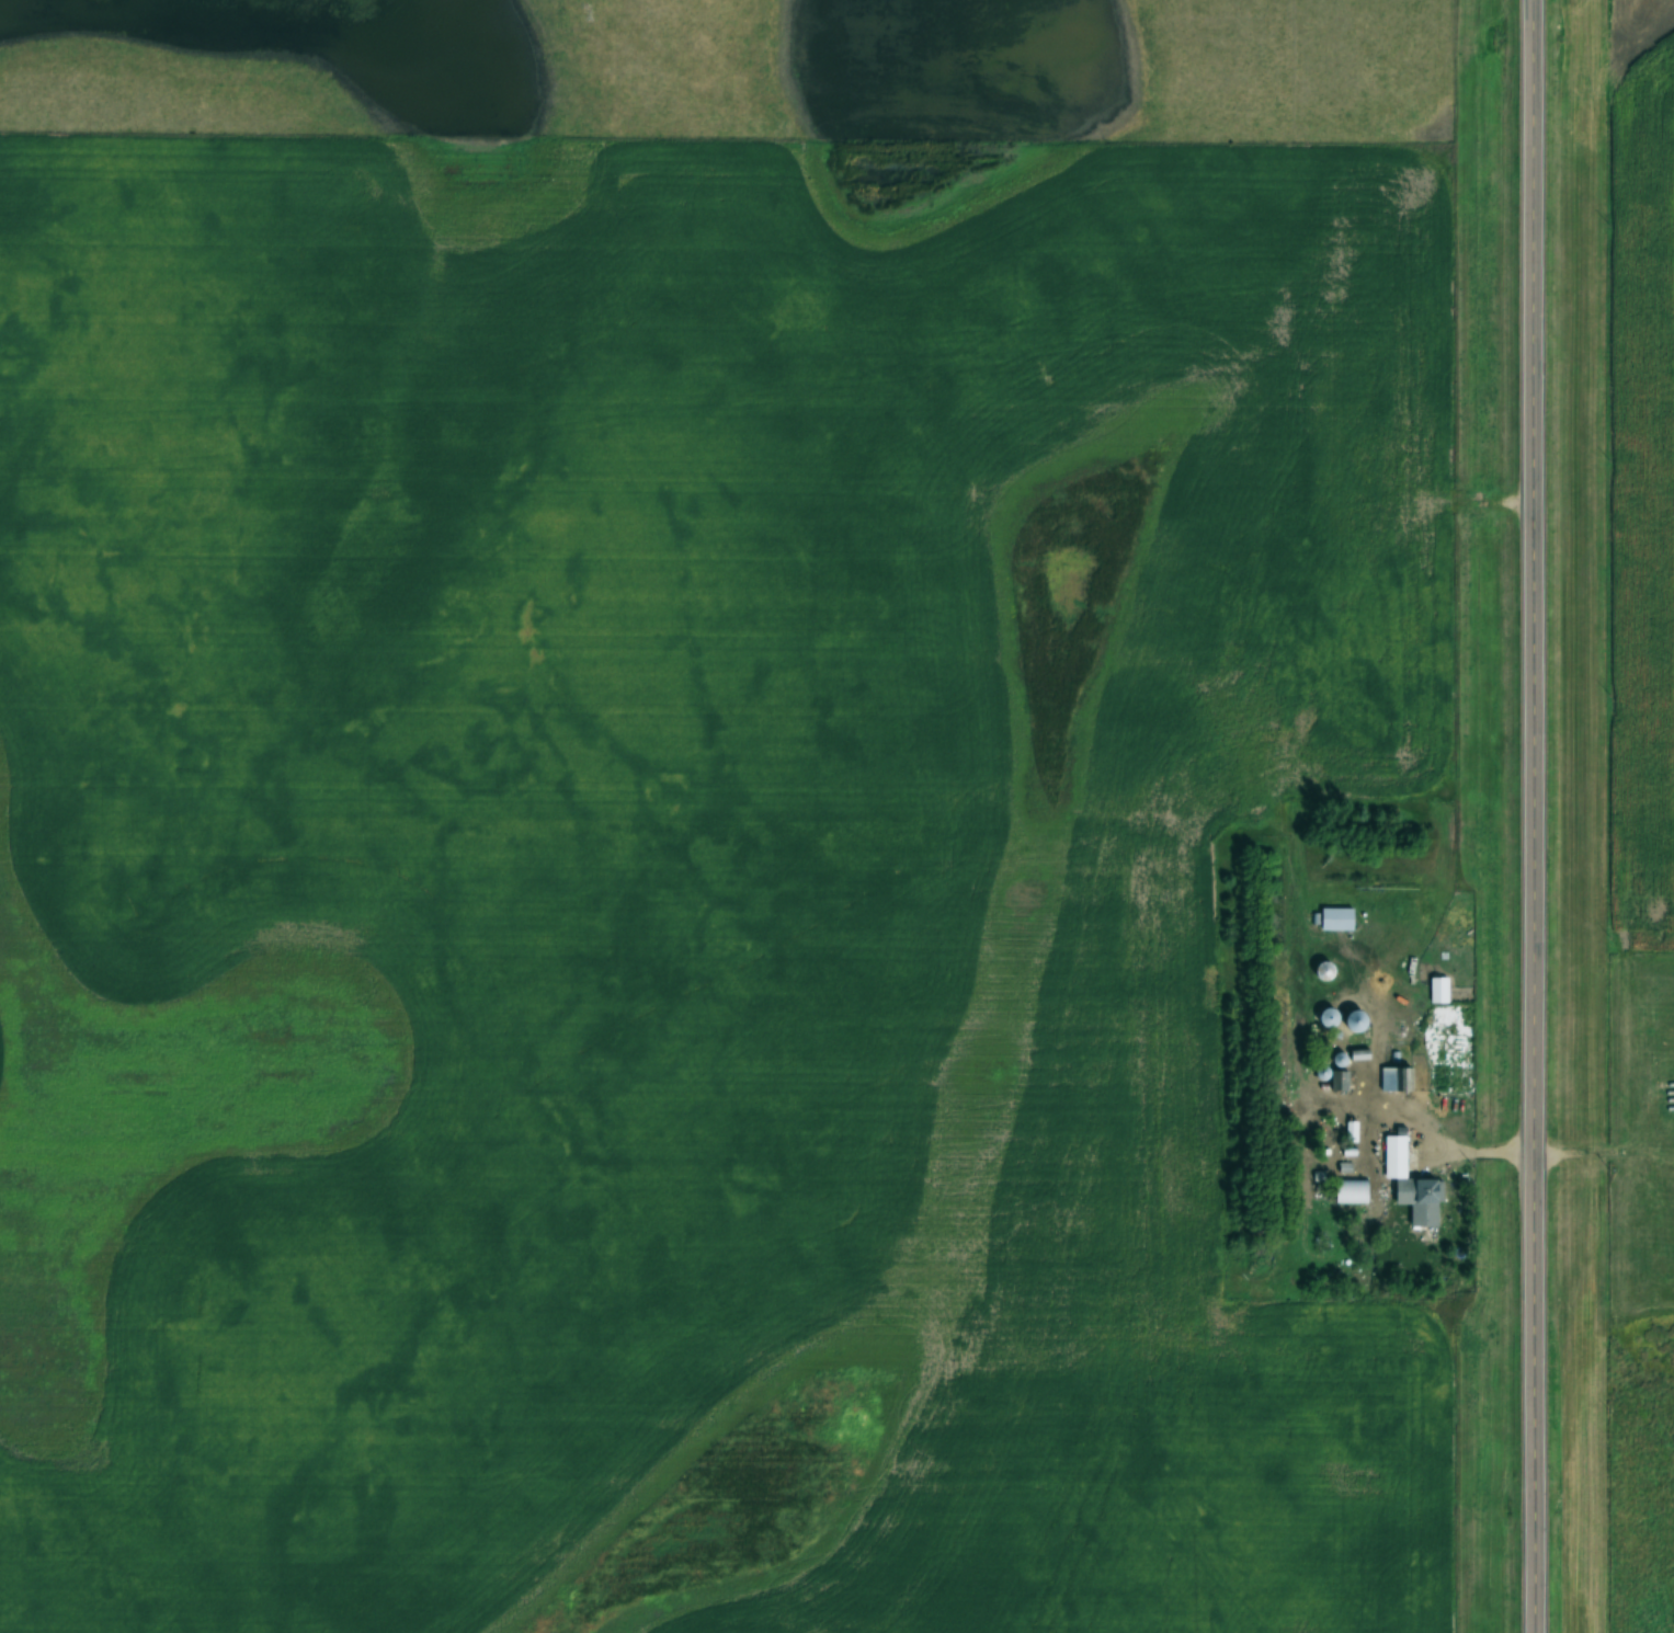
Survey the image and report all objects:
crop: (716, 477)
road: (1528, 816)
building: (1336, 918)
building: (1438, 990)
building: (1324, 1018)
building: (1354, 1021)
building: (1396, 1078)
road: (1435, 1138)
building: (1411, 1181)

